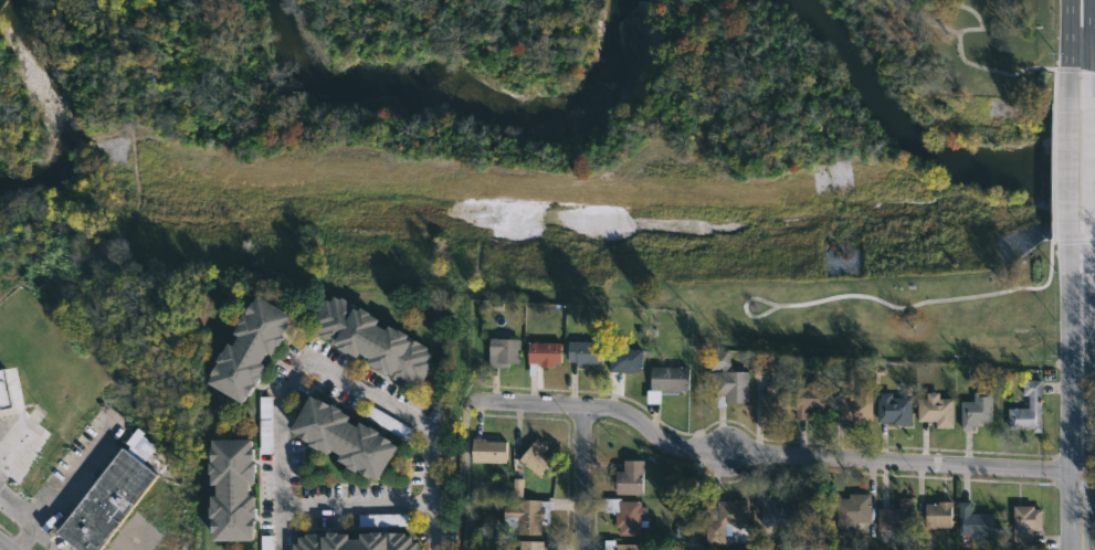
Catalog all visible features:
road: (1089, 25)
road: (1077, 51)
road: (1092, 52)
road: (1066, 54)
road: (968, 64)
road: (1089, 81)
river: (460, 89)
river: (916, 142)
road: (1065, 162)
road: (1089, 163)
road: (1080, 254)
building: (370, 340)
building: (252, 350)
building: (502, 350)
building: (543, 355)
building: (585, 355)
building: (628, 361)
road: (331, 374)
building: (666, 383)
road: (1065, 383)
road: (1089, 383)
building: (727, 388)
building: (6, 391)
building: (771, 402)
building: (811, 403)
building: (853, 406)
building: (893, 409)
building: (935, 409)
building: (976, 409)
building: (1026, 409)
building: (338, 435)
building: (491, 452)
building: (0, 455)
gas station: (0, 455)
building: (1, 457)
building: (535, 457)
road: (777, 458)
road: (582, 478)
building: (632, 479)
road: (60, 491)
building: (232, 493)
building: (102, 501)
road: (356, 505)
building: (812, 506)
building: (851, 507)
building: (771, 508)
building: (627, 514)
building: (936, 514)
building: (893, 516)
building: (529, 517)
building: (724, 521)
building: (972, 521)
road: (28, 522)
building: (1024, 523)
road: (42, 539)
building: (352, 541)
building: (534, 544)
building: (631, 547)
road: (0, 549)

